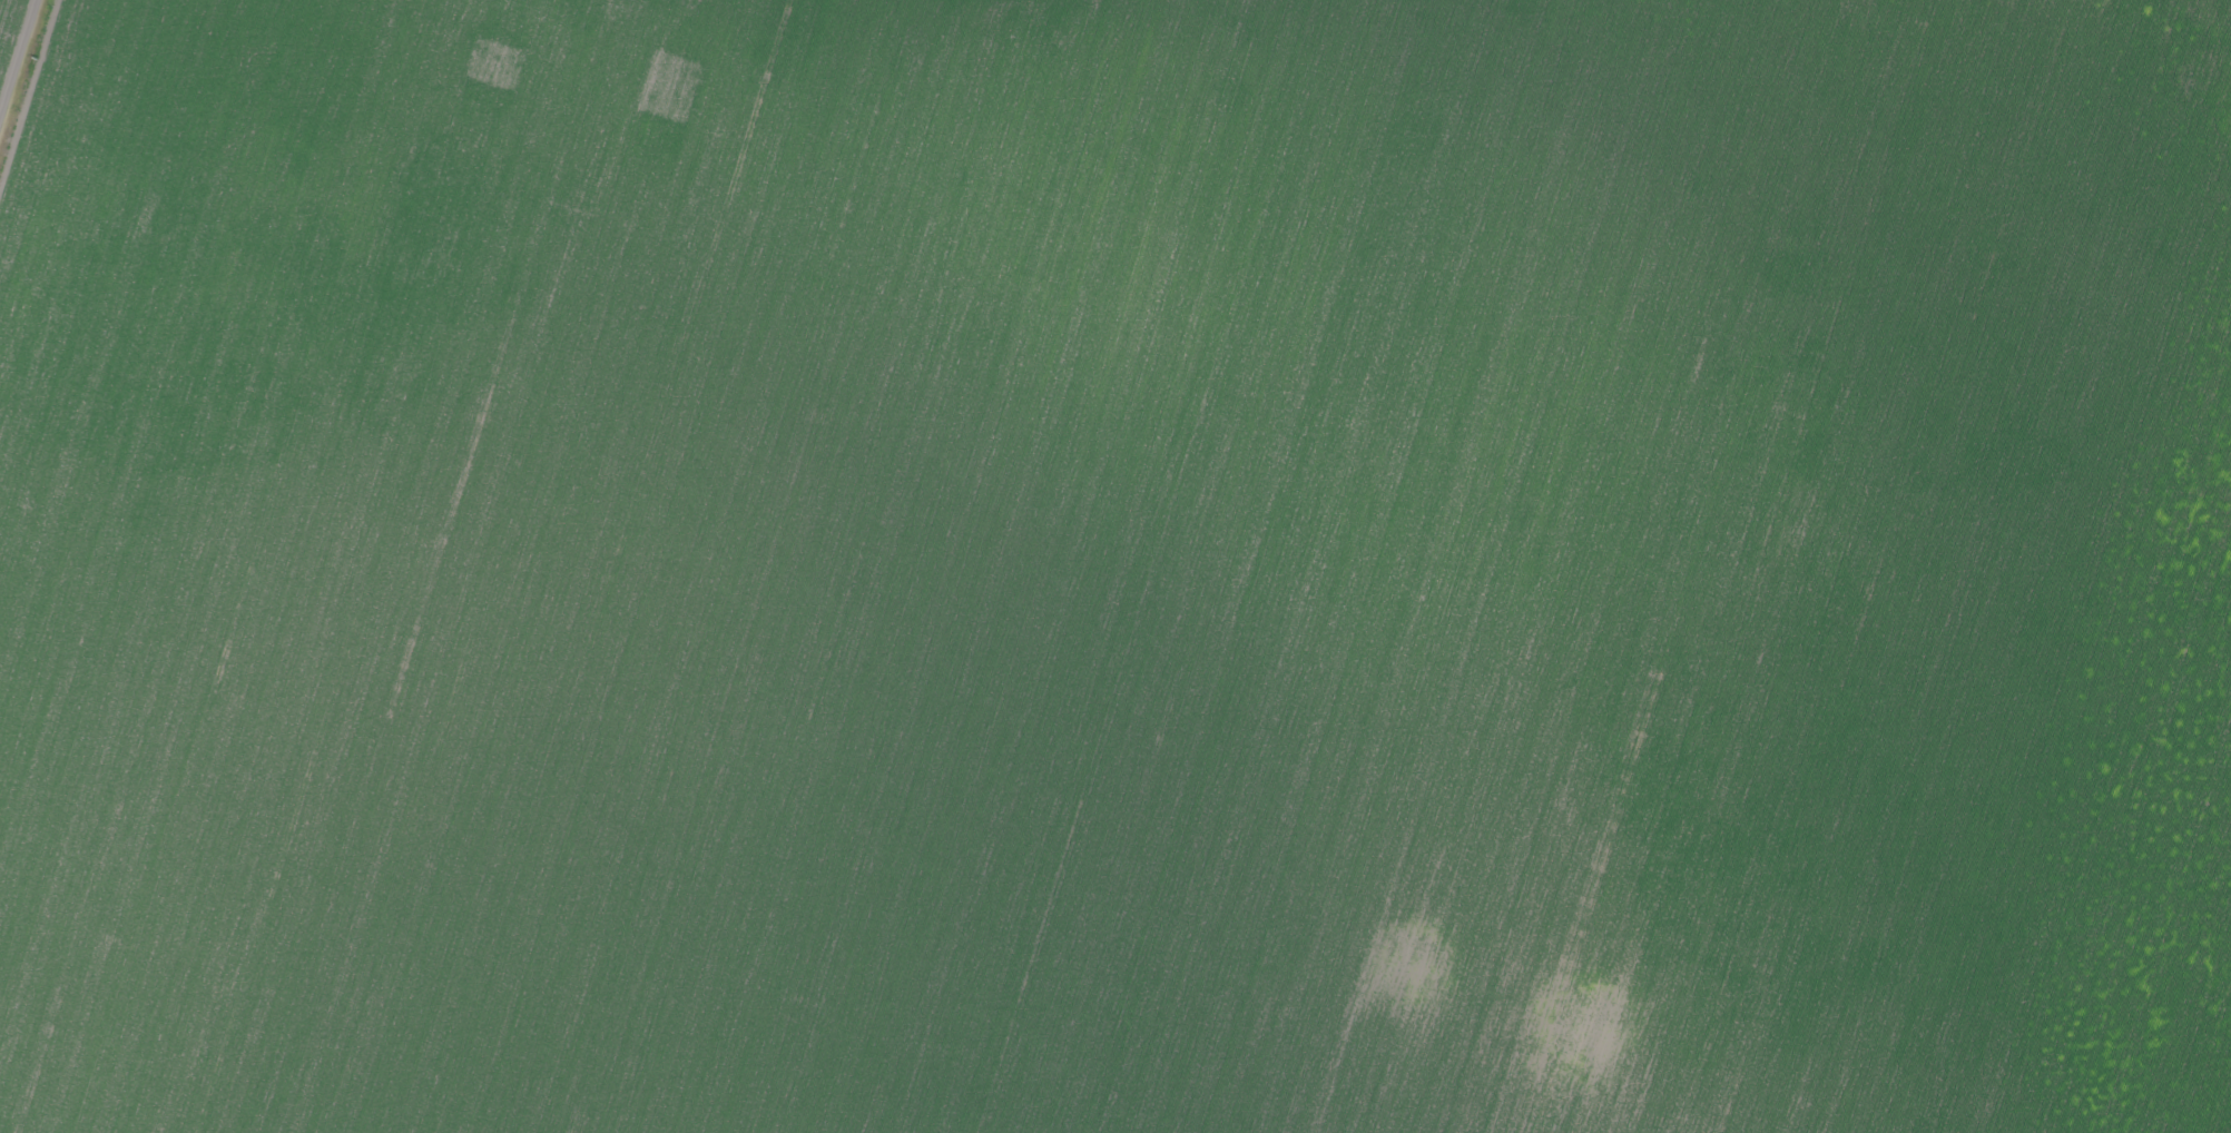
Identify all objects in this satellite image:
road: (36, 119)

